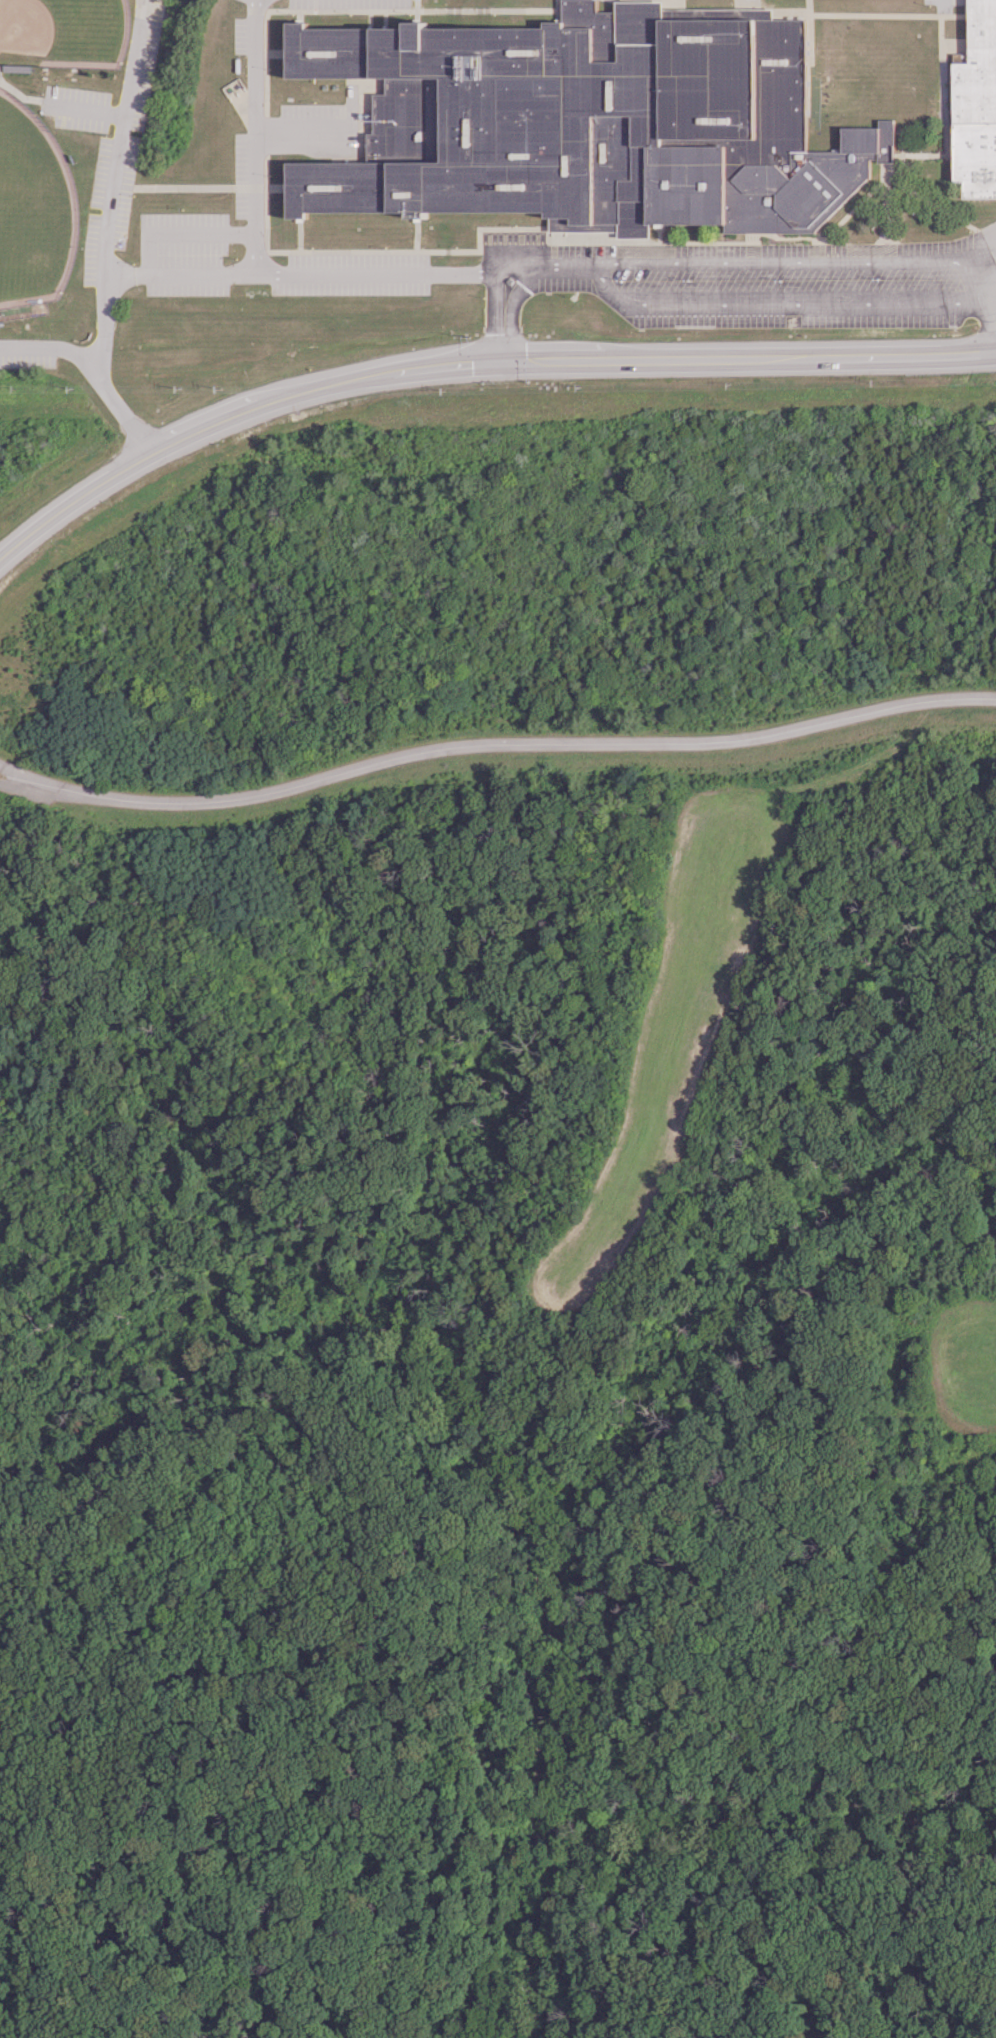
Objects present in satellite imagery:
park: (64, 34)
building: (976, 105)
building: (599, 121)
road: (123, 187)
park: (33, 208)
road: (150, 254)
road: (257, 258)
road: (778, 260)
road: (972, 270)
road: (503, 271)
road: (131, 275)
road: (983, 295)
road: (780, 303)
road: (905, 355)
road: (709, 358)
road: (553, 360)
traffic signals: (503, 362)
road: (448, 365)
road: (90, 374)
road: (364, 376)
road: (298, 394)
road: (205, 428)
road: (72, 502)
road: (527, 744)
road: (31, 775)
road: (48, 791)
road: (793, 1837)
road: (5, 2033)

